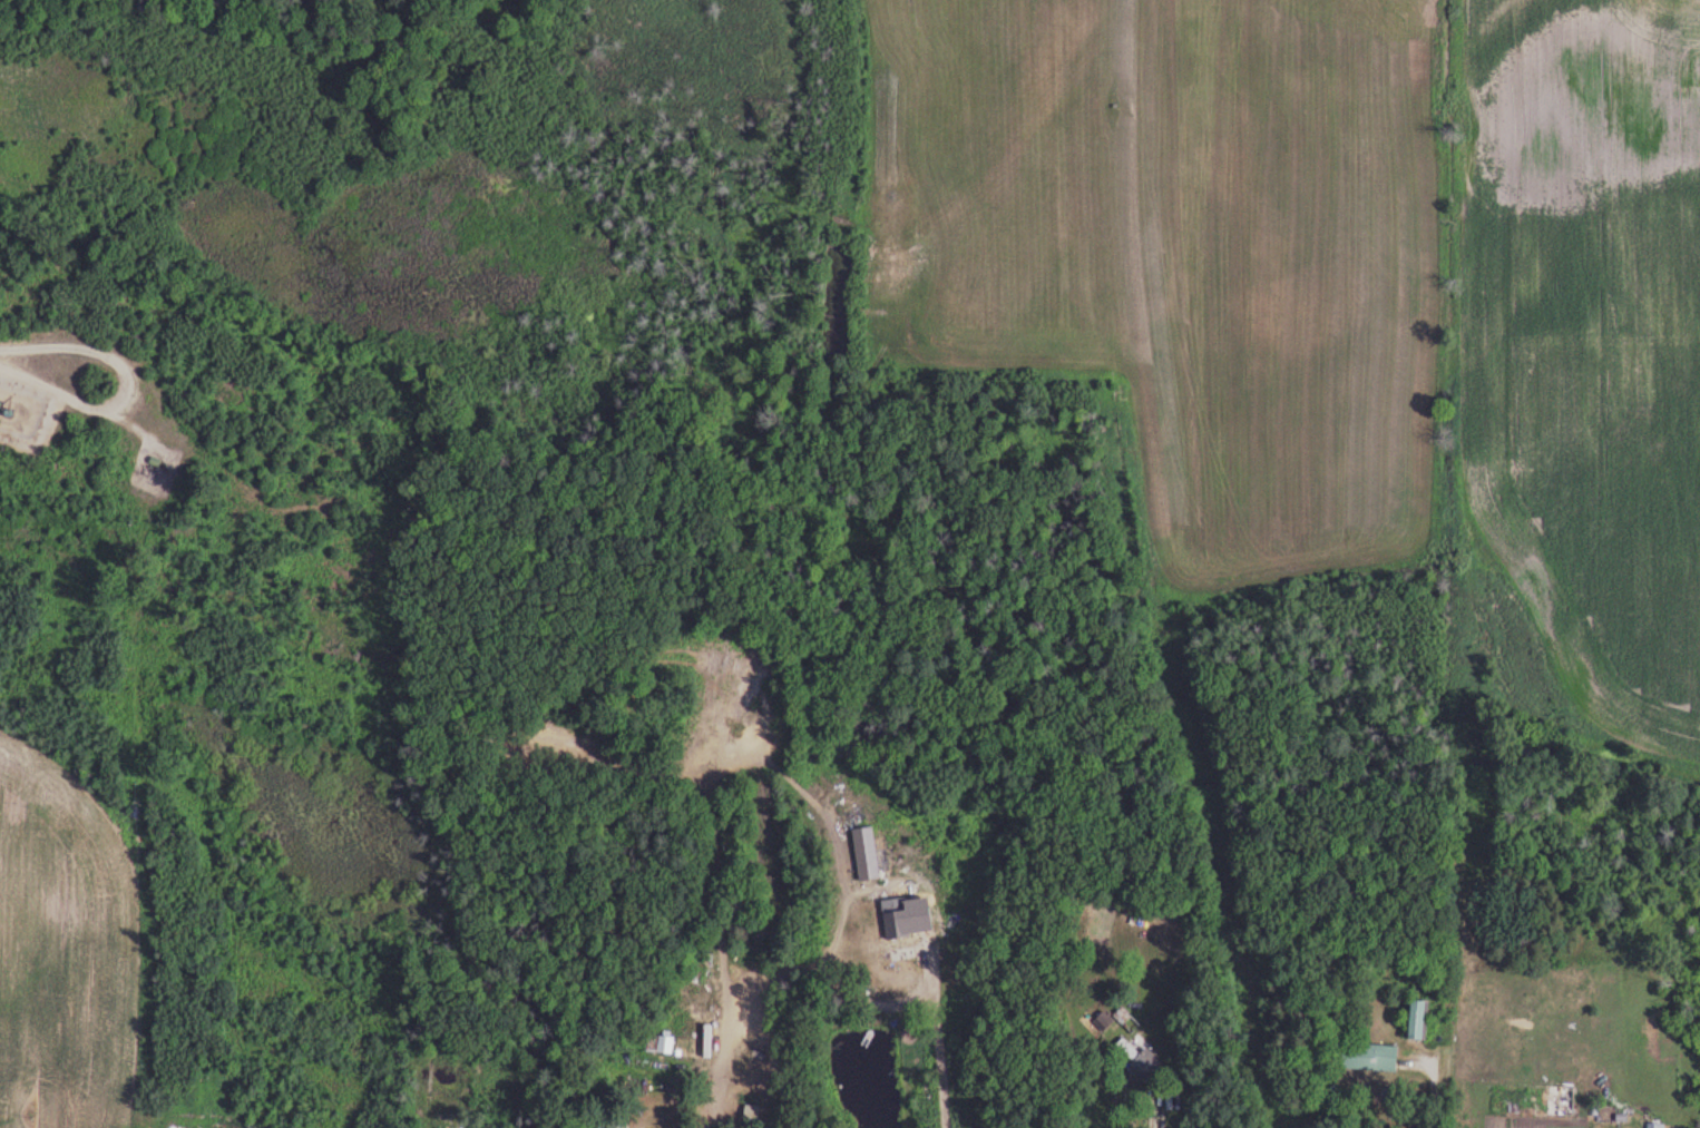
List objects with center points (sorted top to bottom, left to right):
road: (33, 365)
petroleum well: (164, 464)
building: (612, 771)
road: (858, 895)
building: (897, 924)
building: (1417, 1019)
building: (661, 1044)
building: (1369, 1057)
building: (1140, 1058)
road: (1436, 1086)
building: (751, 1114)
building: (617, 1121)
building: (1655, 1126)

